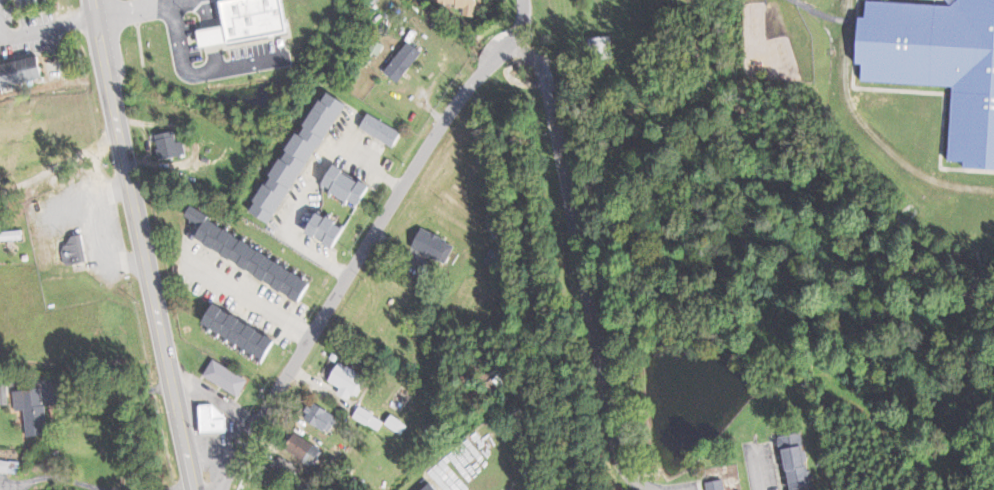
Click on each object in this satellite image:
road: (158, 2)
building: (465, 6)
road: (123, 10)
road: (208, 13)
building: (256, 18)
road: (35, 33)
road: (213, 35)
building: (602, 48)
road: (217, 56)
building: (405, 61)
building: (940, 62)
road: (199, 71)
building: (22, 72)
building: (382, 130)
building: (172, 145)
road: (96, 156)
building: (300, 157)
road: (356, 157)
road: (48, 172)
building: (348, 186)
road: (291, 222)
road: (110, 226)
building: (328, 230)
building: (11, 235)
road: (140, 245)
building: (432, 245)
road: (366, 246)
building: (75, 250)
building: (253, 257)
building: (495, 258)
road: (579, 268)
road: (252, 303)
building: (241, 332)
building: (227, 378)
building: (345, 379)
road: (112, 394)
building: (35, 409)
building: (321, 417)
building: (214, 418)
building: (369, 418)
building: (398, 424)
building: (305, 449)
building: (799, 462)
road: (65, 480)
road: (178, 481)
building: (717, 484)
building: (432, 486)

